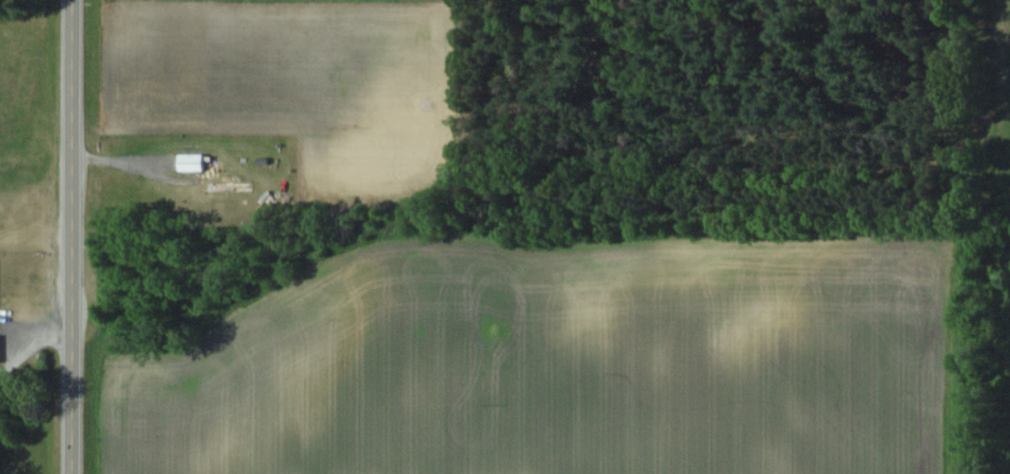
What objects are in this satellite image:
building: (191, 163)
building: (228, 187)
road: (67, 236)
road: (30, 341)

